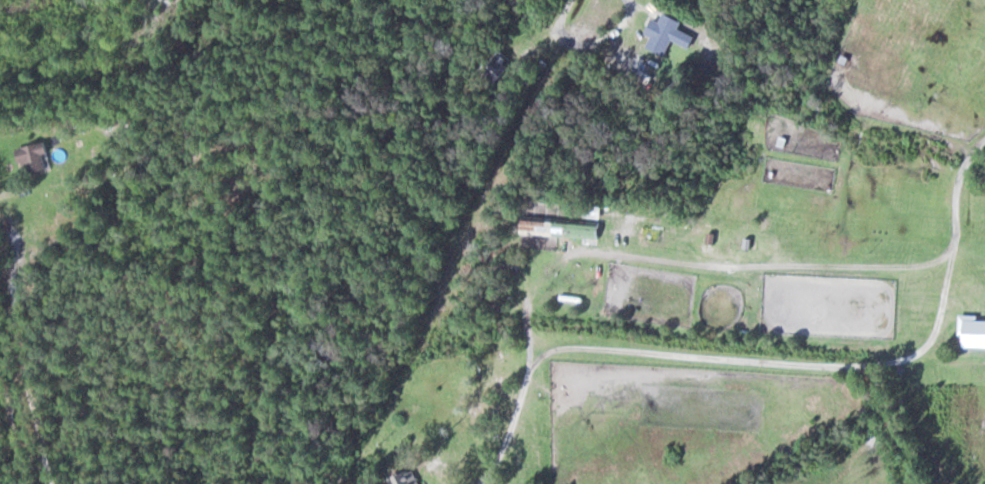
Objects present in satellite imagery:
road: (557, 17)
building: (667, 34)
building: (45, 156)
building: (566, 230)
building: (658, 237)
road: (914, 388)
road: (12, 442)
building: (408, 479)

